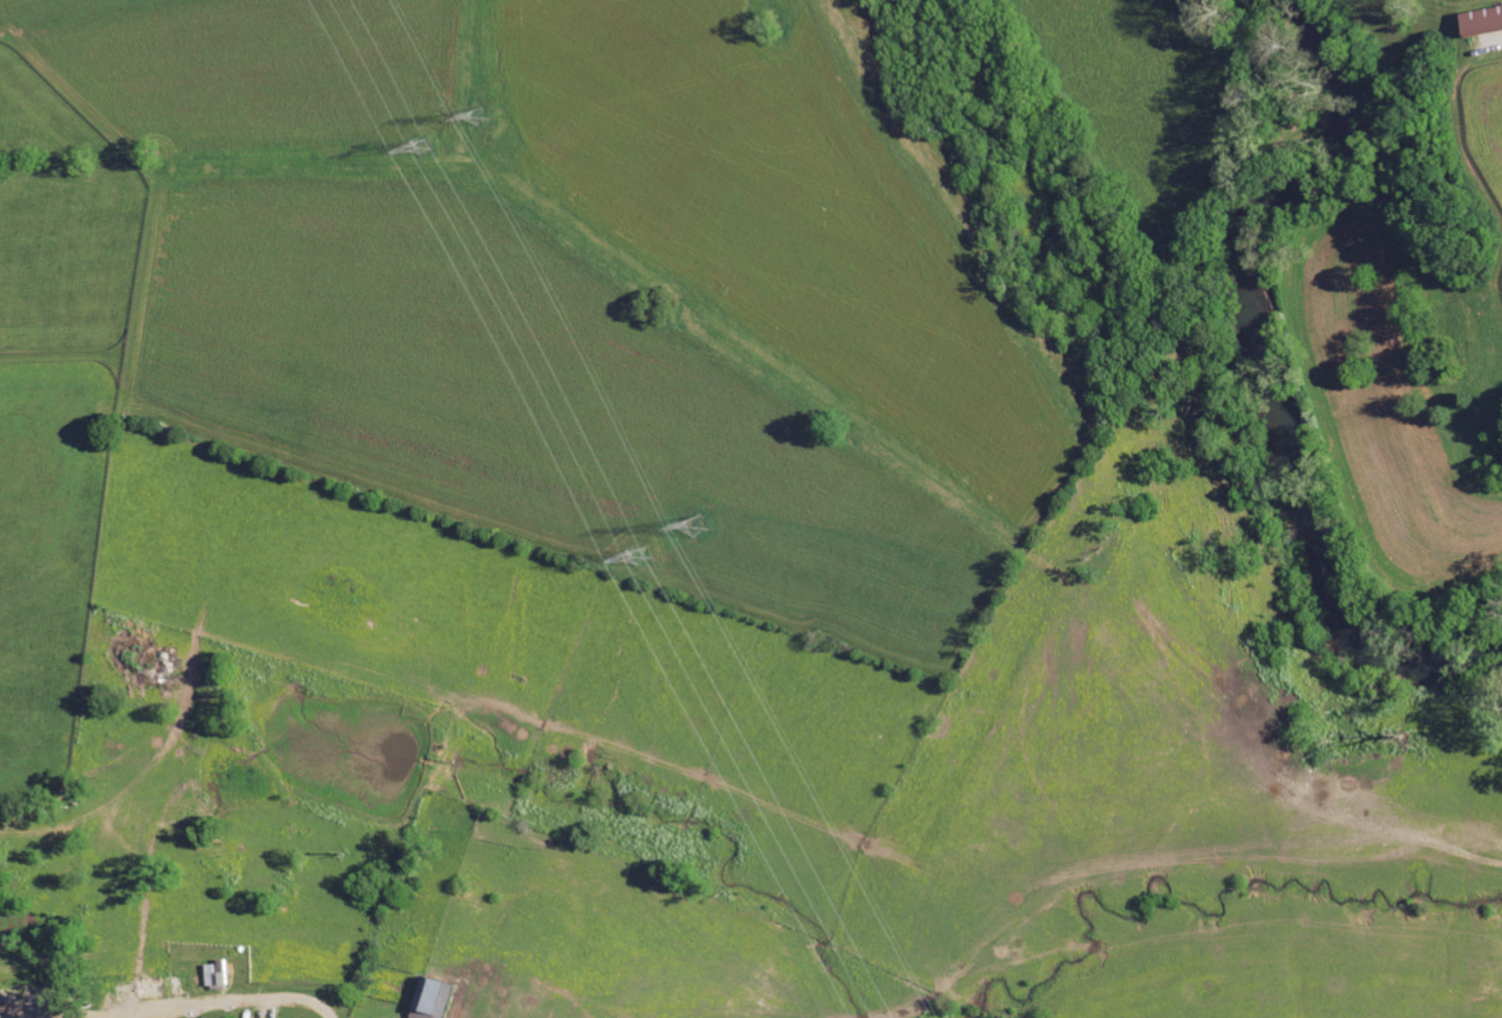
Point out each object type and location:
building: (1479, 21)
power tower: (472, 113)
power tower: (423, 149)
power tower: (701, 525)
power tower: (645, 554)
building: (220, 976)
building: (157, 987)
building: (441, 997)
road: (188, 1009)

